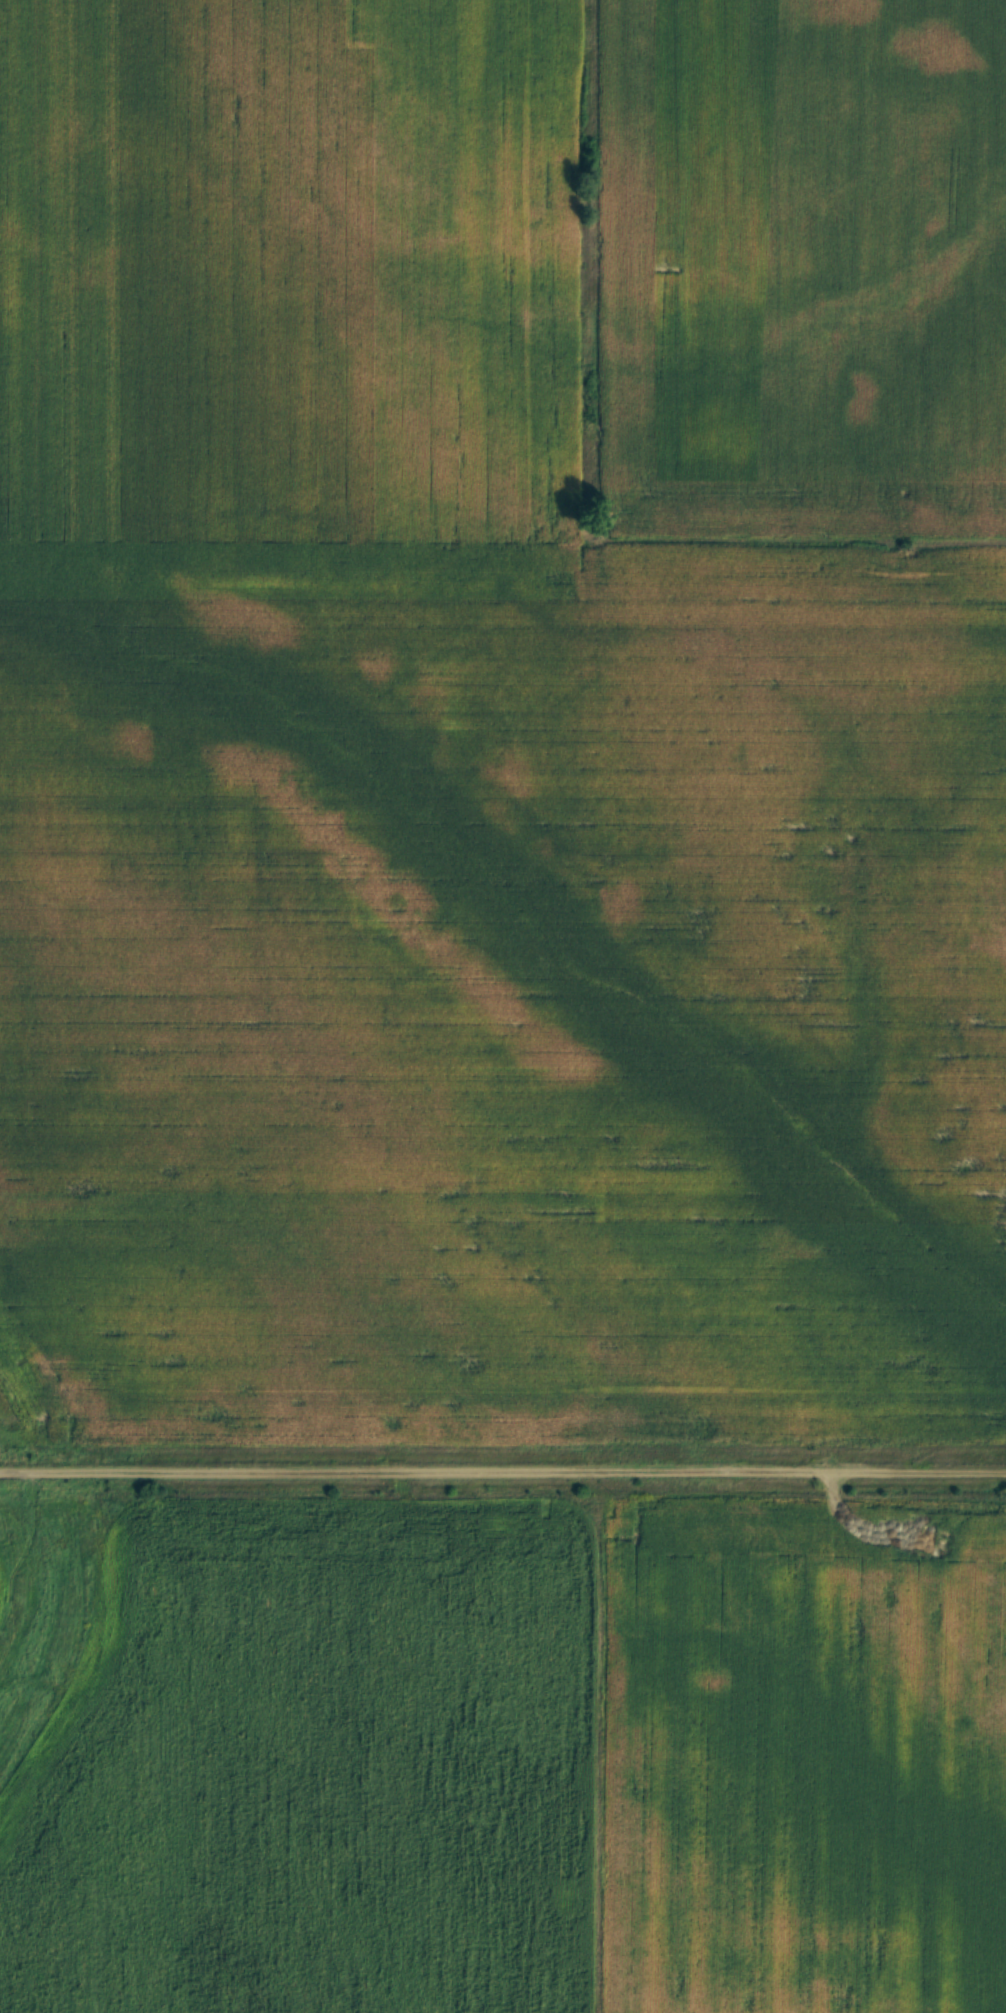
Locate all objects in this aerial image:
road: (503, 1472)

